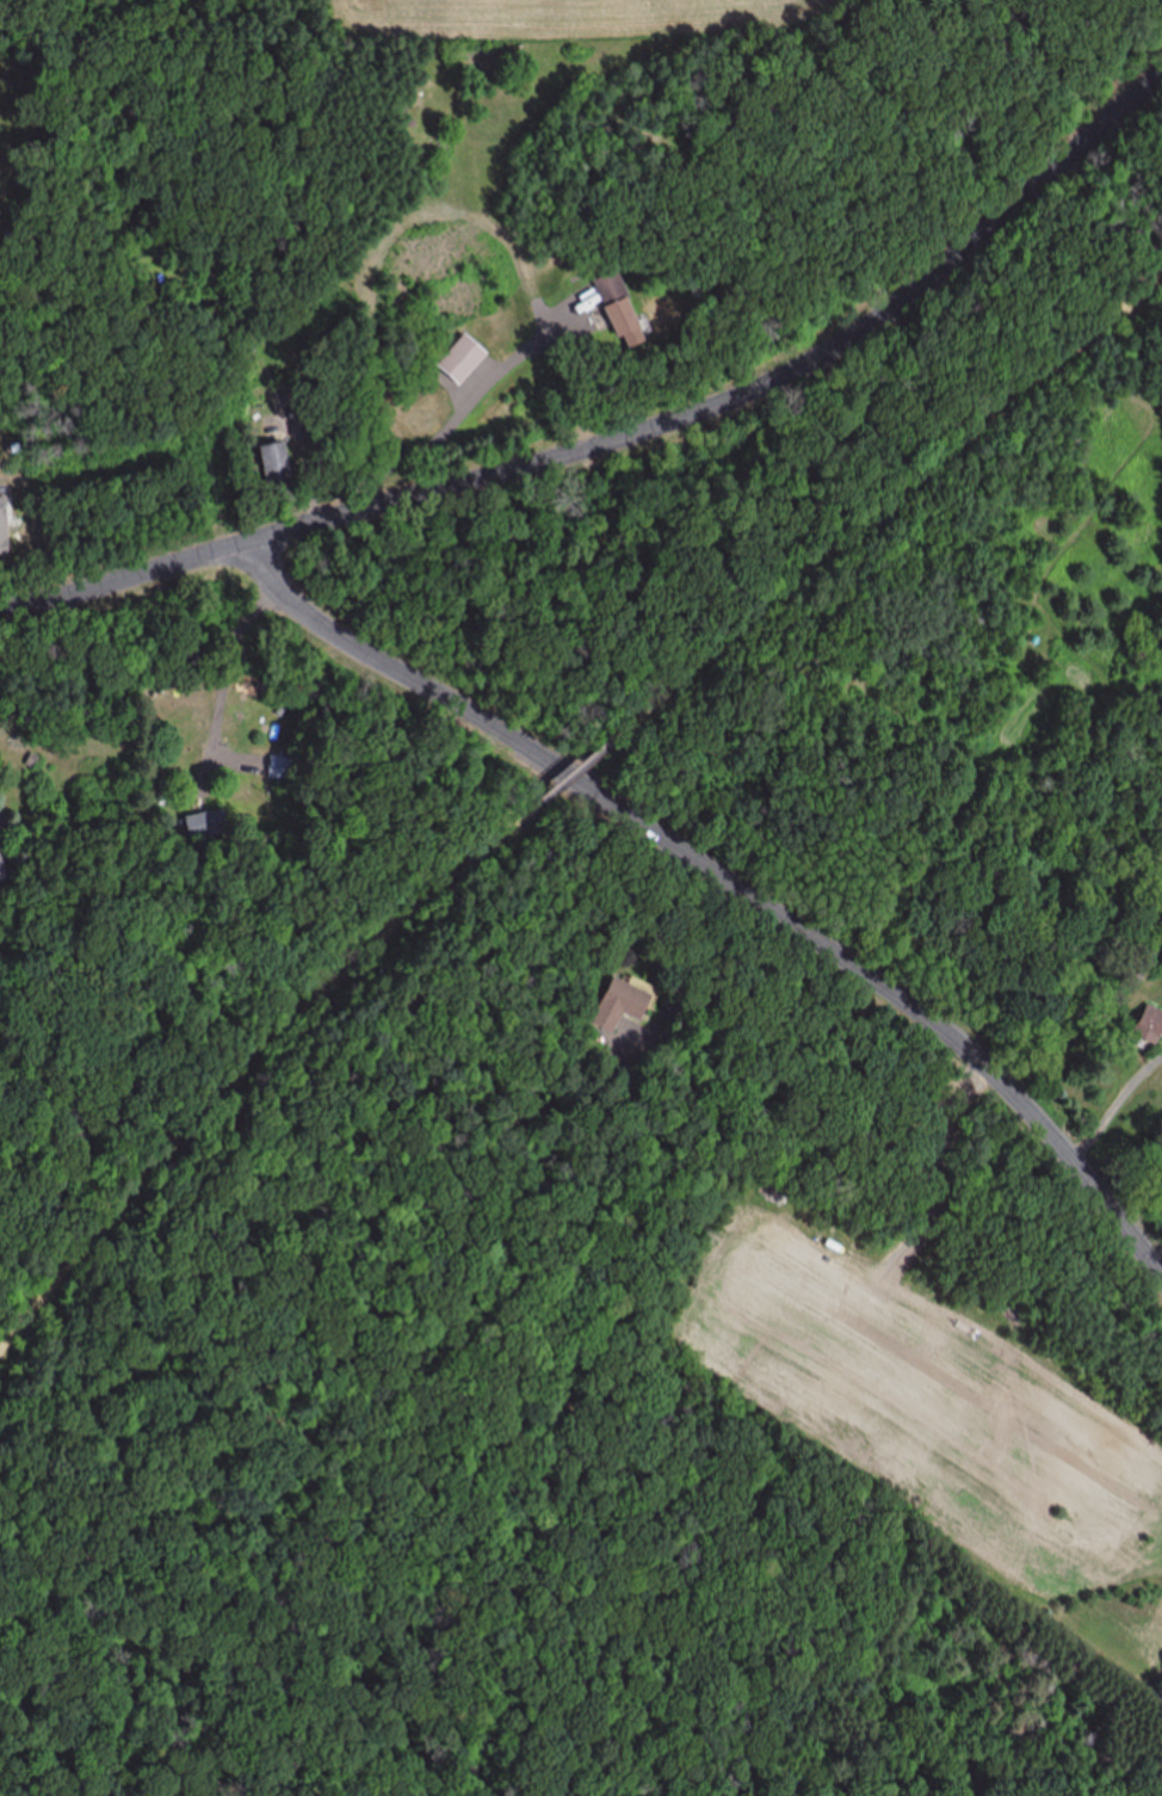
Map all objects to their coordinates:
crop: (613, 1)
building: (613, 307)
building: (458, 359)
road: (628, 430)
building: (270, 464)
road: (883, 511)
building: (2, 527)
building: (283, 767)
road: (567, 777)
building: (205, 826)
building: (0, 876)
road: (728, 878)
building: (614, 1005)
building: (1146, 1025)
road: (256, 1074)
road: (162, 1588)
road: (7, 1753)

